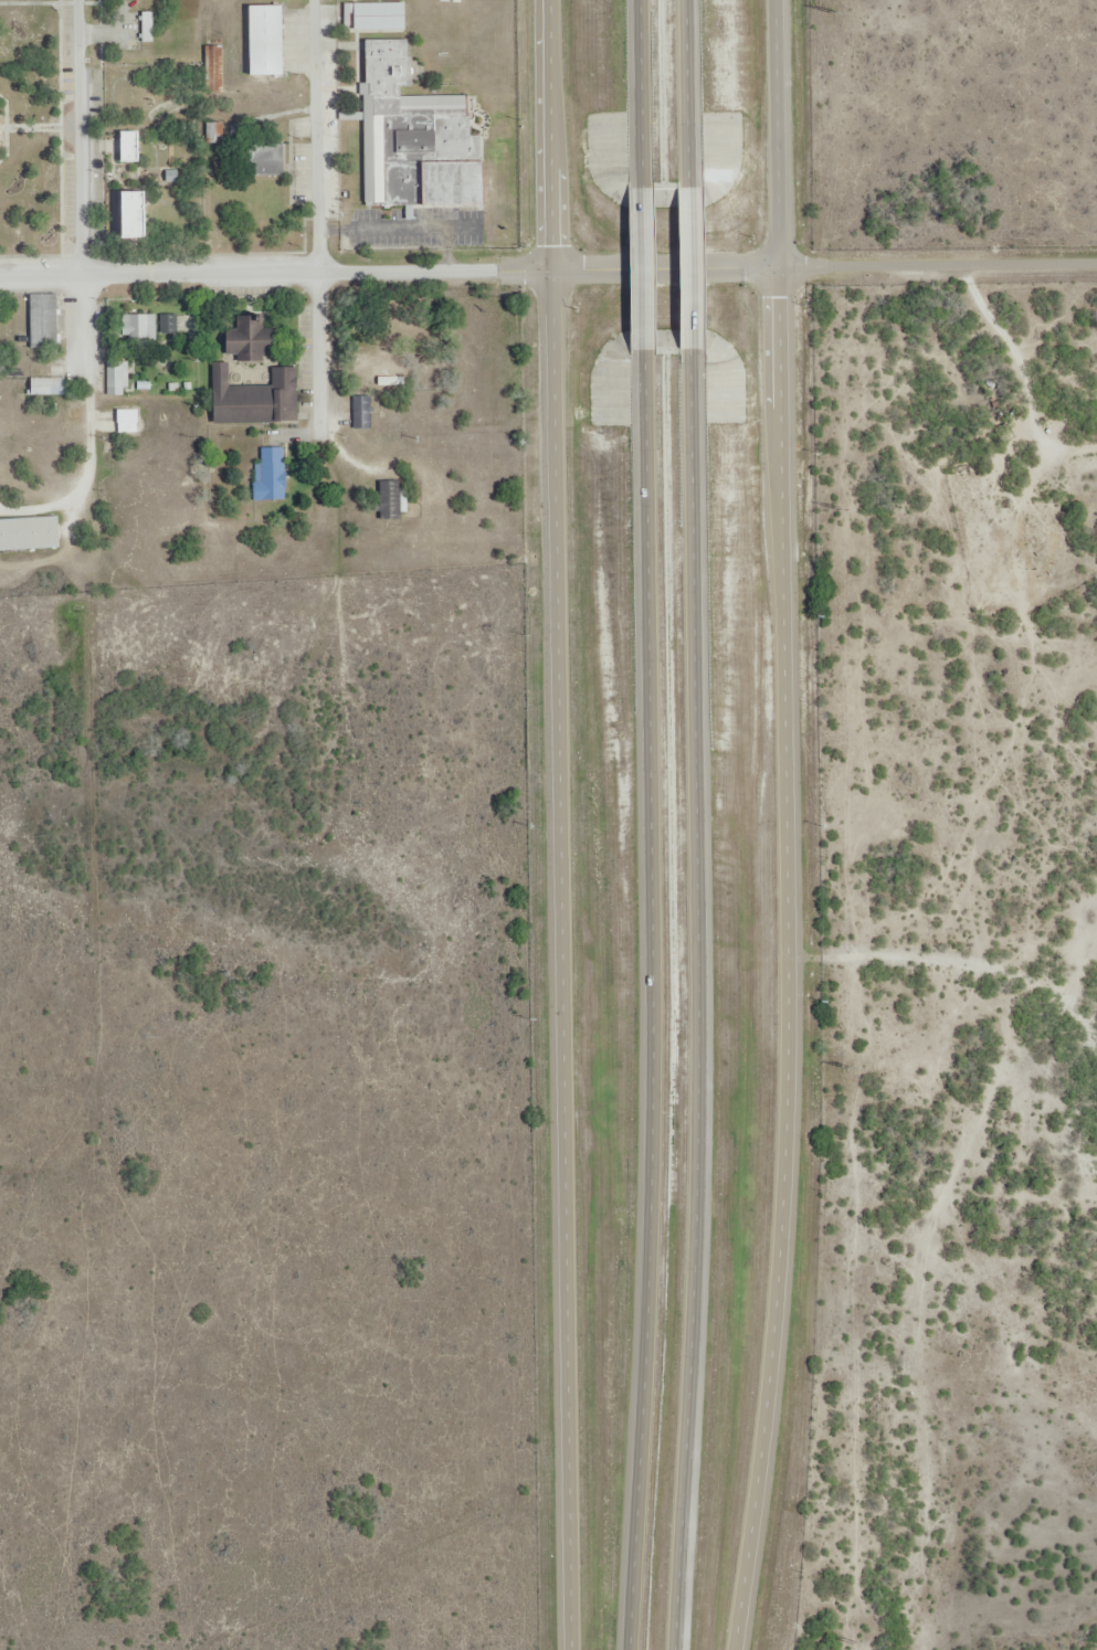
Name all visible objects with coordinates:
power tower: (834, 11)
building: (380, 15)
building: (149, 25)
building: (267, 40)
road: (641, 93)
road: (688, 93)
building: (0, 129)
road: (320, 137)
building: (416, 137)
road: (87, 138)
building: (131, 147)
building: (135, 214)
road: (690, 267)
road: (939, 267)
road: (642, 268)
road: (390, 273)
building: (45, 320)
building: (169, 321)
building: (140, 329)
building: (251, 341)
building: (118, 377)
building: (50, 385)
building: (257, 396)
building: (363, 410)
building: (128, 420)
building: (272, 473)
building: (391, 498)
power tower: (840, 509)
building: (30, 532)
road: (565, 824)
road: (785, 826)
road: (700, 998)
road: (652, 999)
power tower: (848, 1067)
power tower: (856, 1643)

